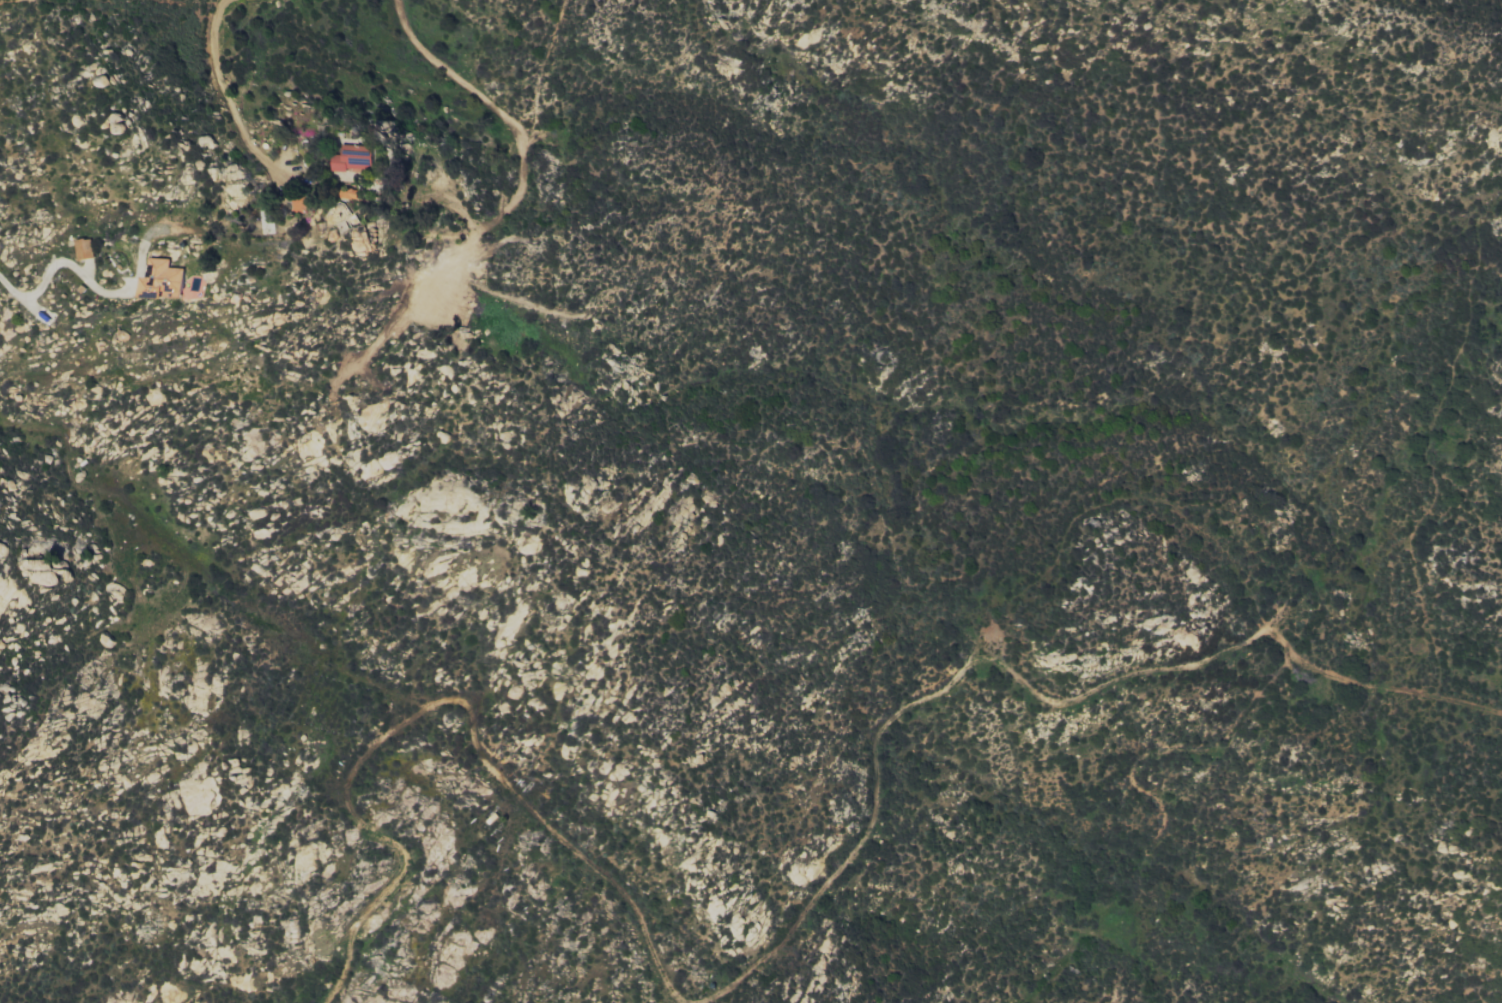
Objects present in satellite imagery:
road: (223, 86)
road: (510, 120)
building: (352, 158)
building: (347, 192)
building: (82, 248)
road: (62, 264)
building: (162, 280)

